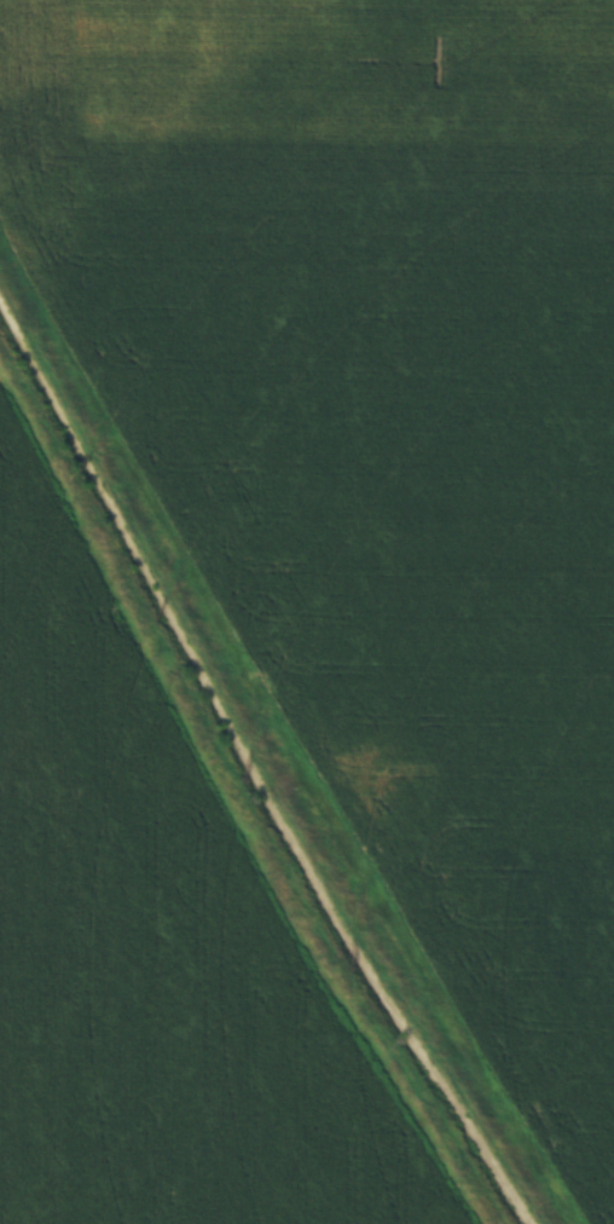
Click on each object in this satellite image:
river: (285, 750)

